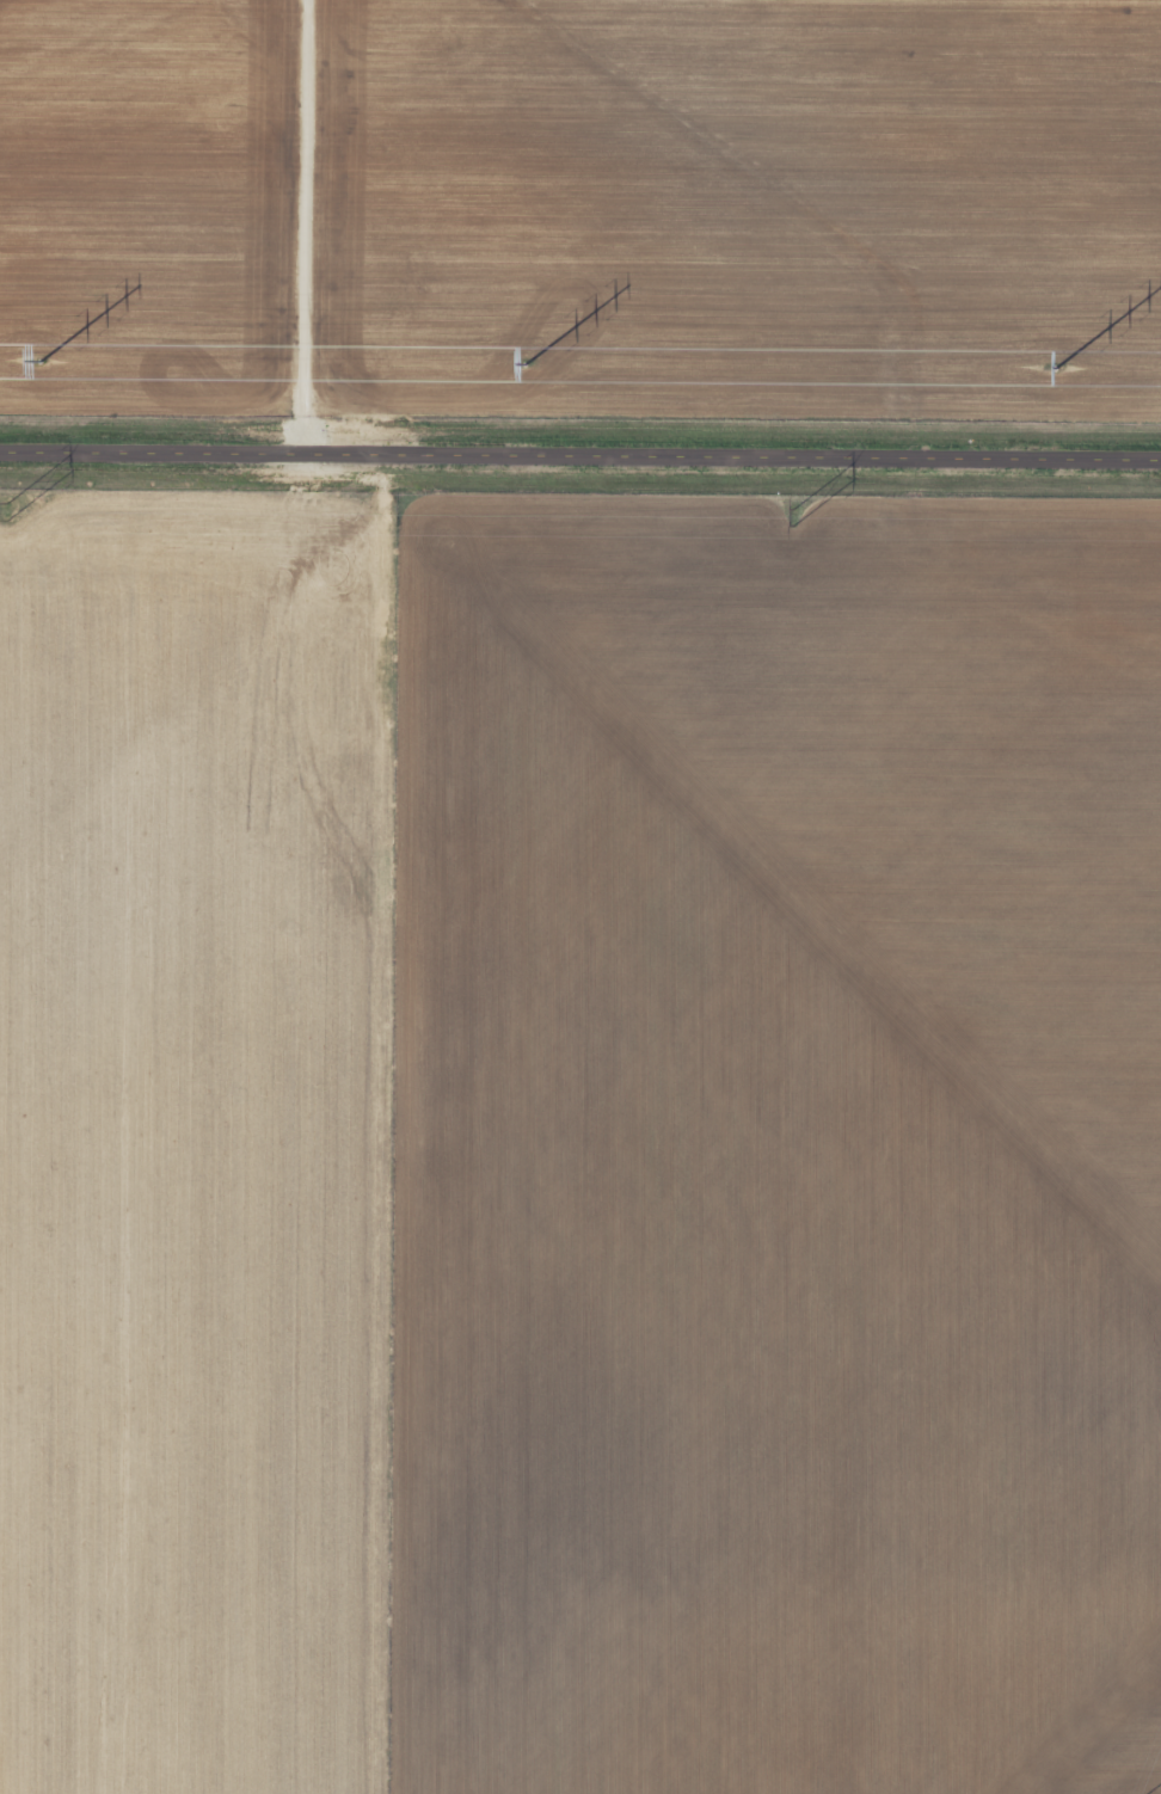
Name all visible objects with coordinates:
power tower: (39, 361)
power tower: (524, 363)
power tower: (1055, 368)
road: (580, 460)
power tower: (5, 512)
power tower: (791, 518)

